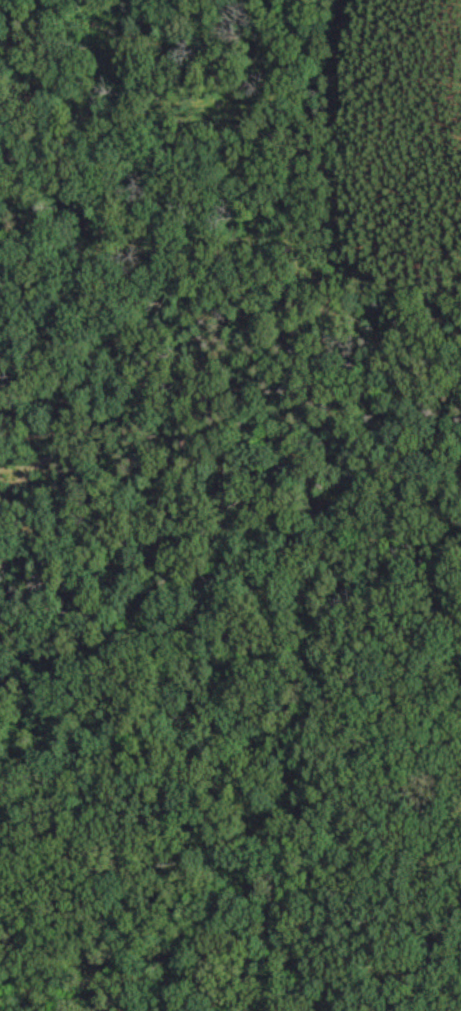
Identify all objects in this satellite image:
road: (281, 330)

